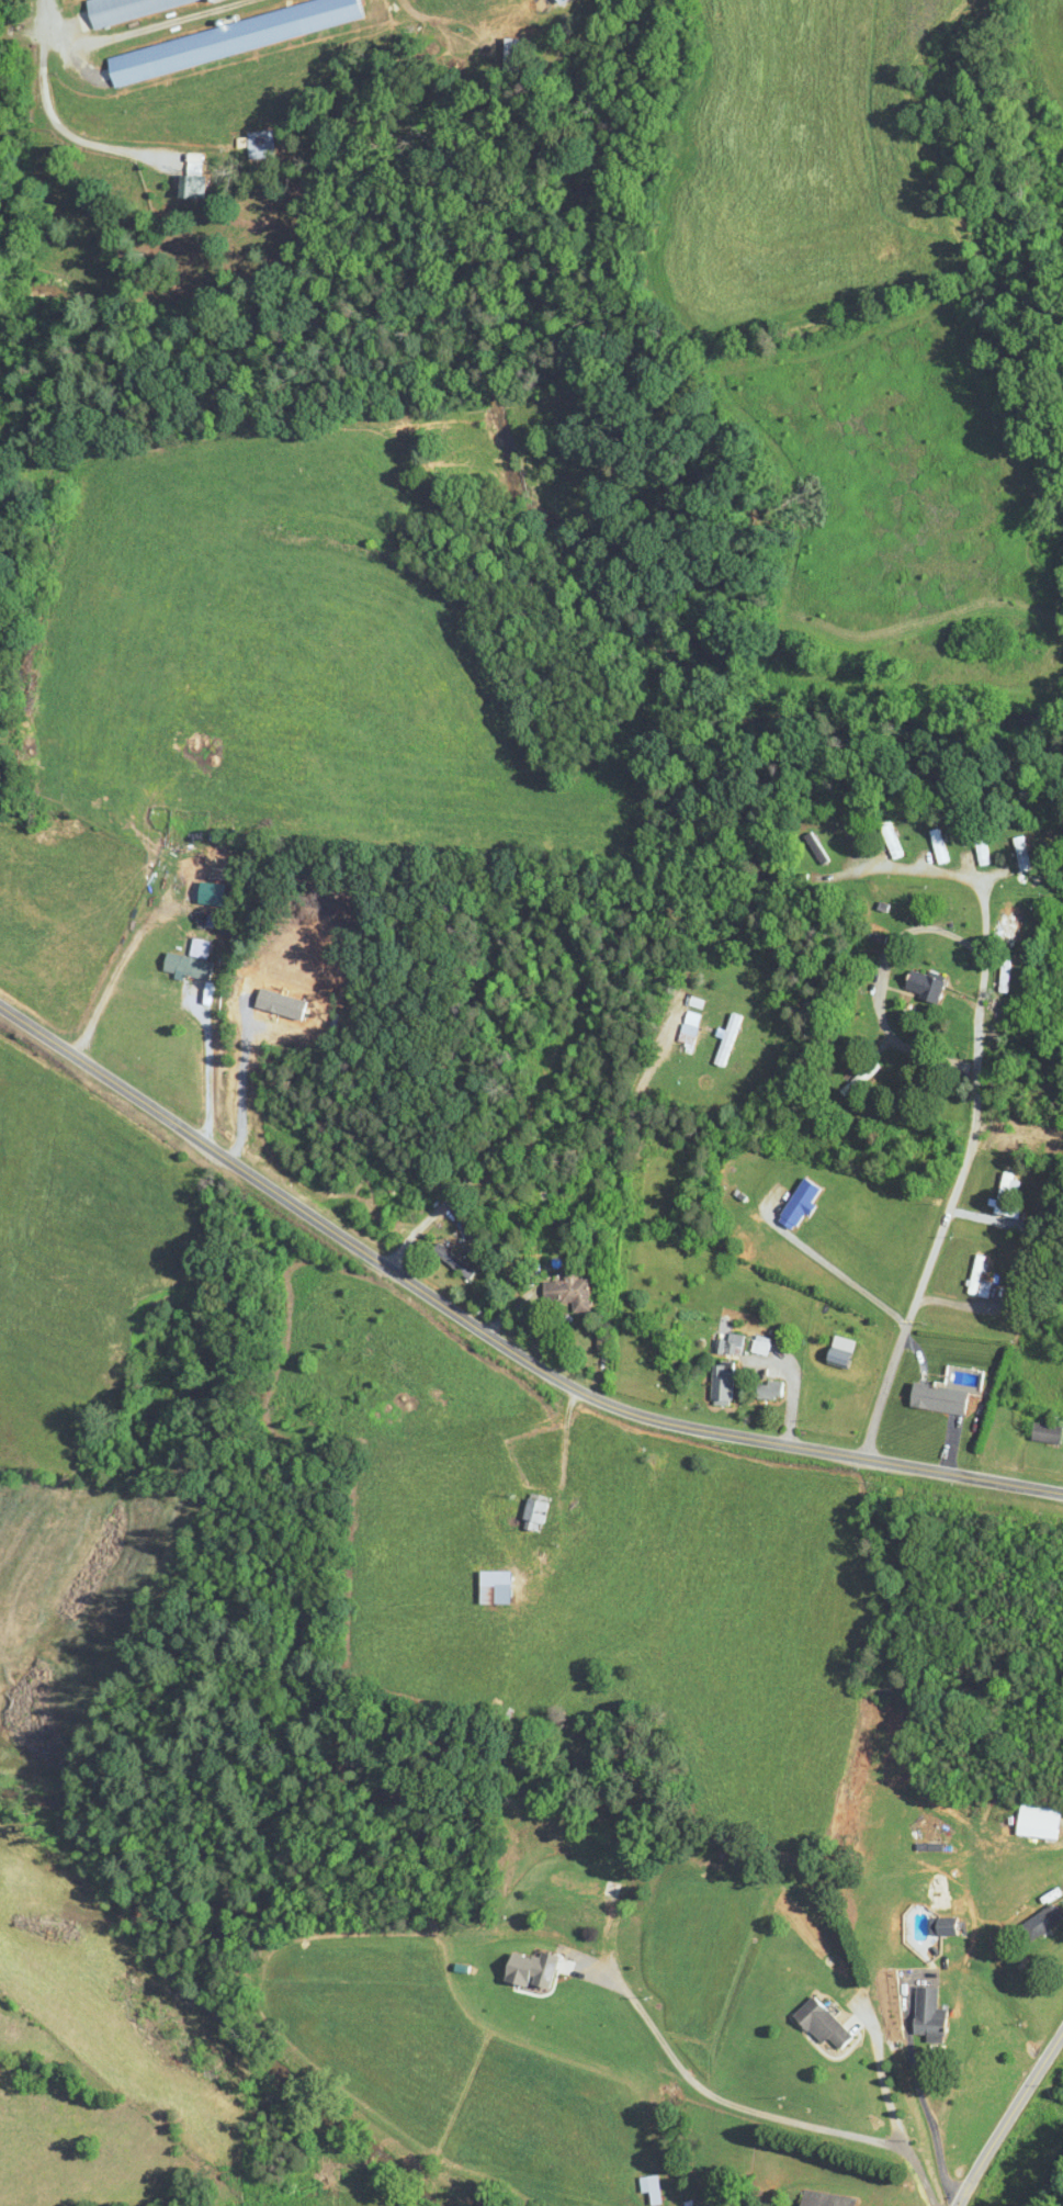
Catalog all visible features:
building: (120, 8)
road: (42, 33)
building: (227, 38)
building: (508, 48)
building: (255, 145)
building: (845, 837)
building: (887, 842)
building: (934, 846)
building: (813, 848)
building: (976, 848)
building: (1016, 854)
building: (190, 874)
building: (1007, 922)
building: (186, 963)
road: (115, 972)
building: (1000, 975)
road: (880, 983)
building: (918, 987)
building: (685, 1029)
building: (723, 1042)
road: (206, 1067)
building: (856, 1080)
road: (238, 1084)
road: (977, 1096)
road: (547, 1156)
building: (999, 1194)
building: (795, 1203)
building: (449, 1260)
road: (838, 1270)
building: (975, 1279)
building: (563, 1290)
road: (494, 1339)
building: (728, 1343)
building: (755, 1344)
building: (717, 1384)
building: (762, 1389)
road: (792, 1389)
building: (932, 1398)
building: (1040, 1433)
building: (531, 1513)
building: (488, 1587)
building: (1030, 1833)
building: (1034, 1923)
building: (925, 1927)
building: (923, 2015)
building: (816, 2024)
road: (882, 2075)
road: (924, 2103)
road: (735, 2105)
road: (1008, 2117)
road: (920, 2174)
building: (645, 2188)
building: (819, 2198)

